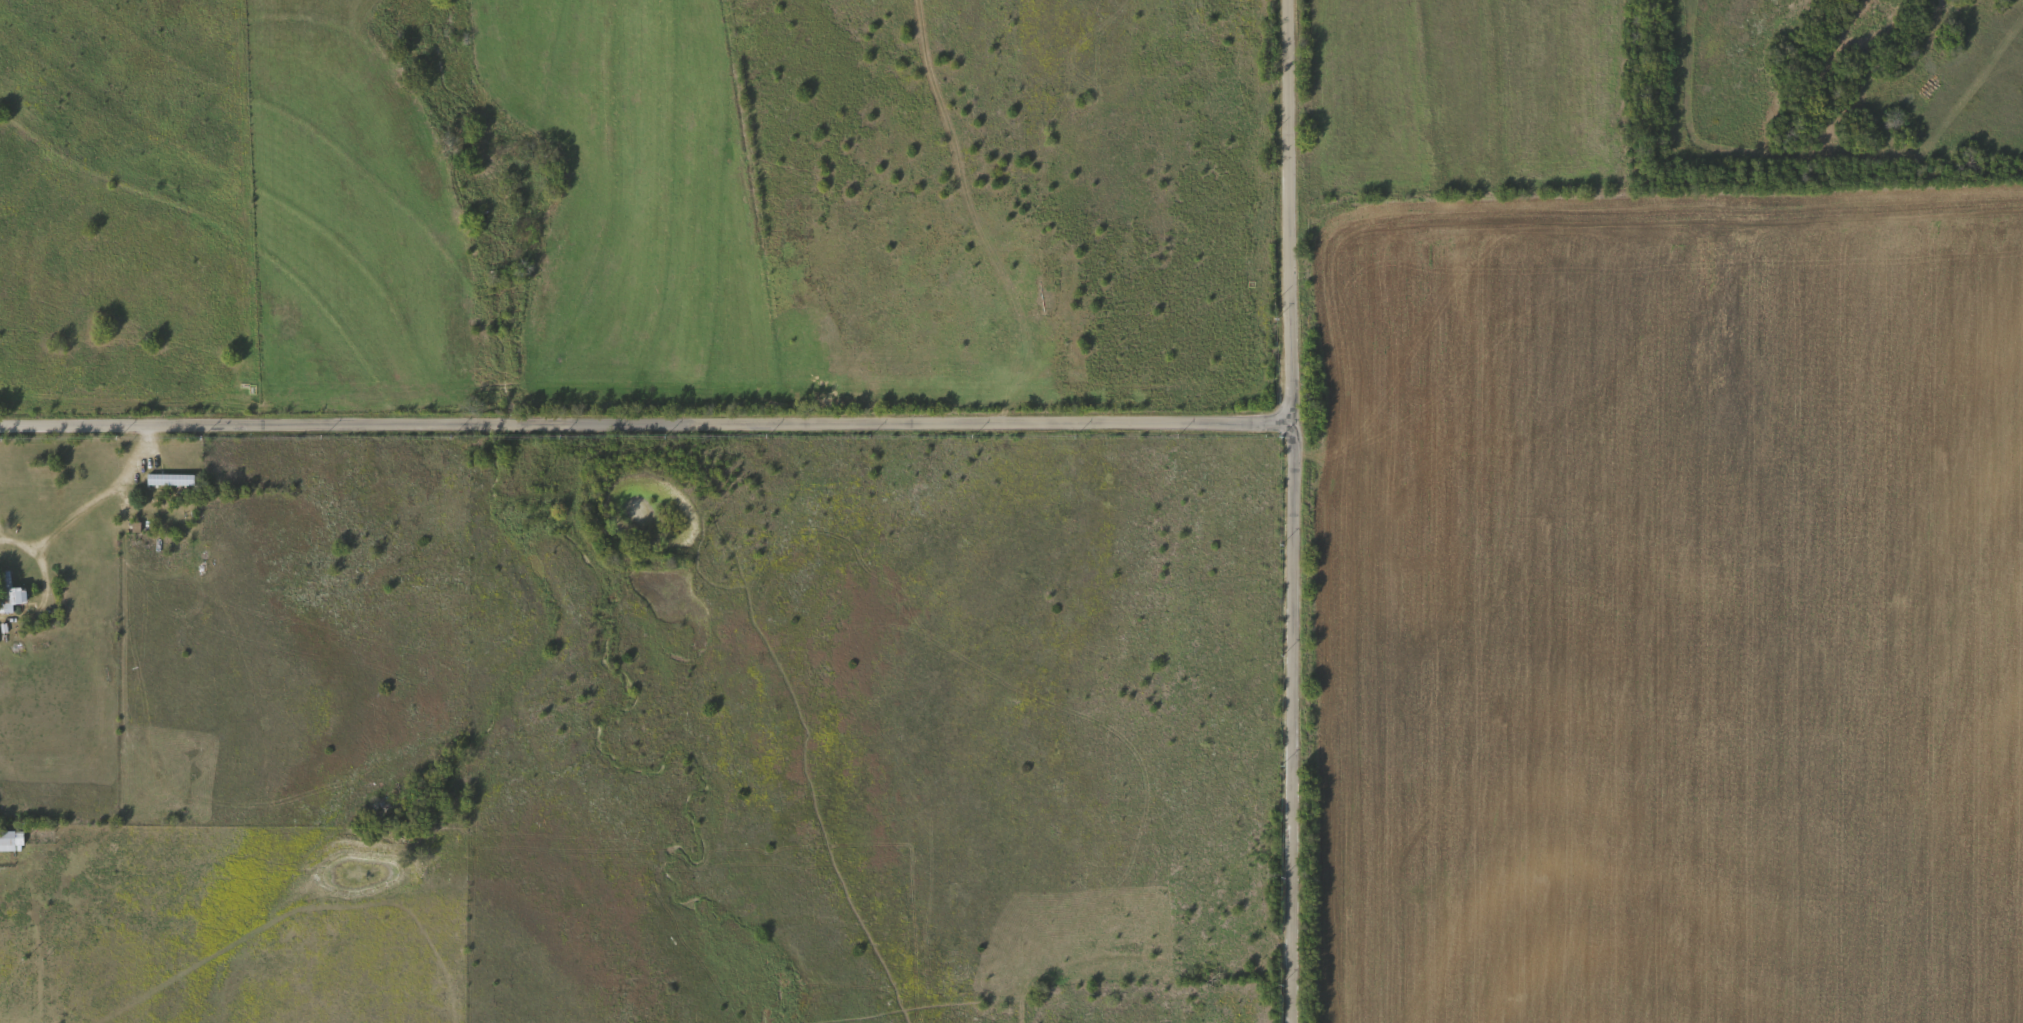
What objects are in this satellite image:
road: (1558, 13)
road: (852, 422)
building: (170, 477)
road: (88, 502)
building: (9, 592)
road: (1298, 706)
building: (11, 838)

